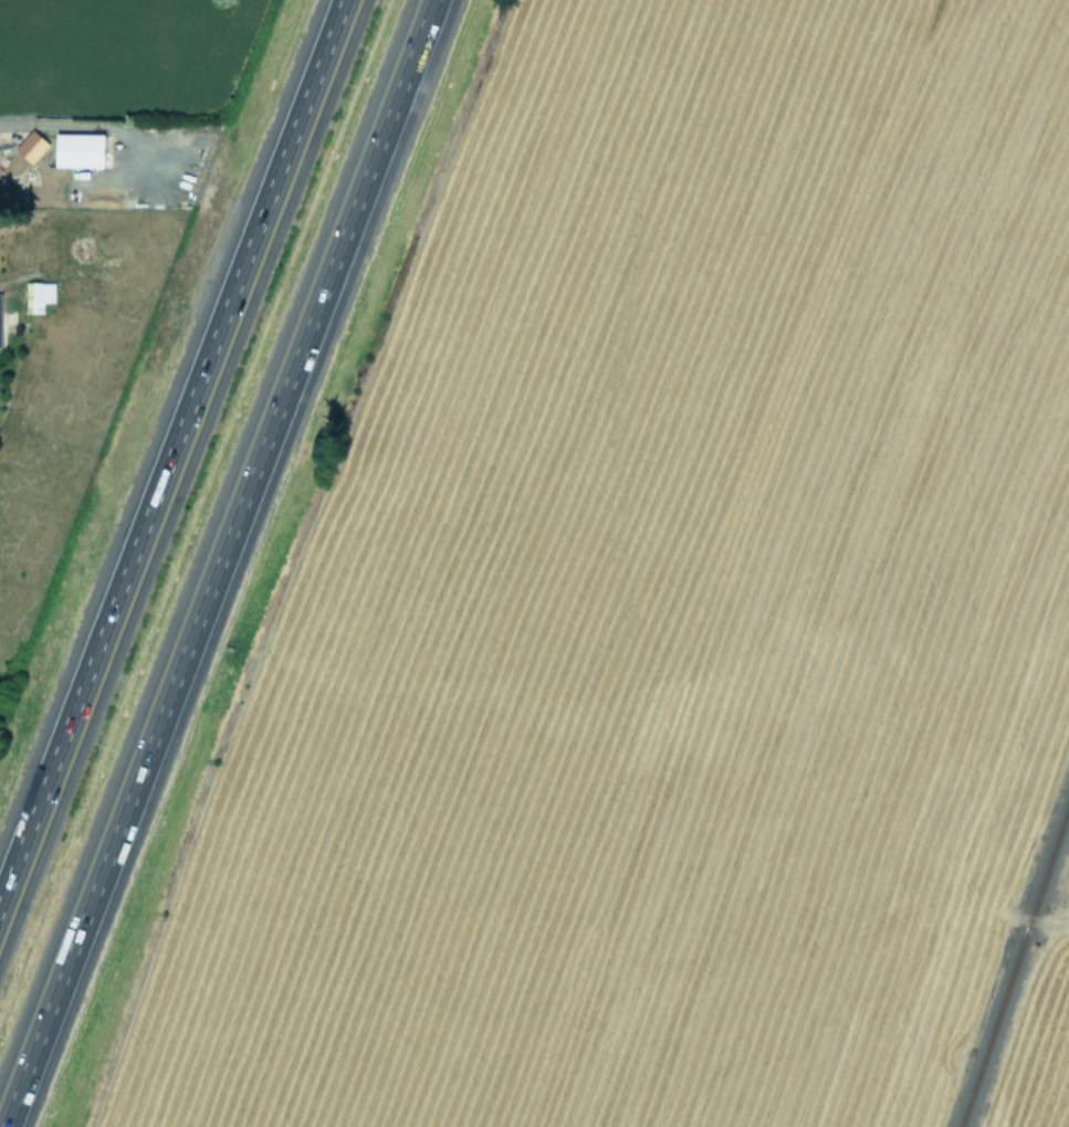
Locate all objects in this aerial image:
road: (71, 126)
building: (31, 146)
building: (78, 149)
crop: (77, 224)
building: (38, 295)
building: (0, 338)
road: (171, 450)
road: (217, 563)
crop: (682, 614)
railway: (1014, 962)

